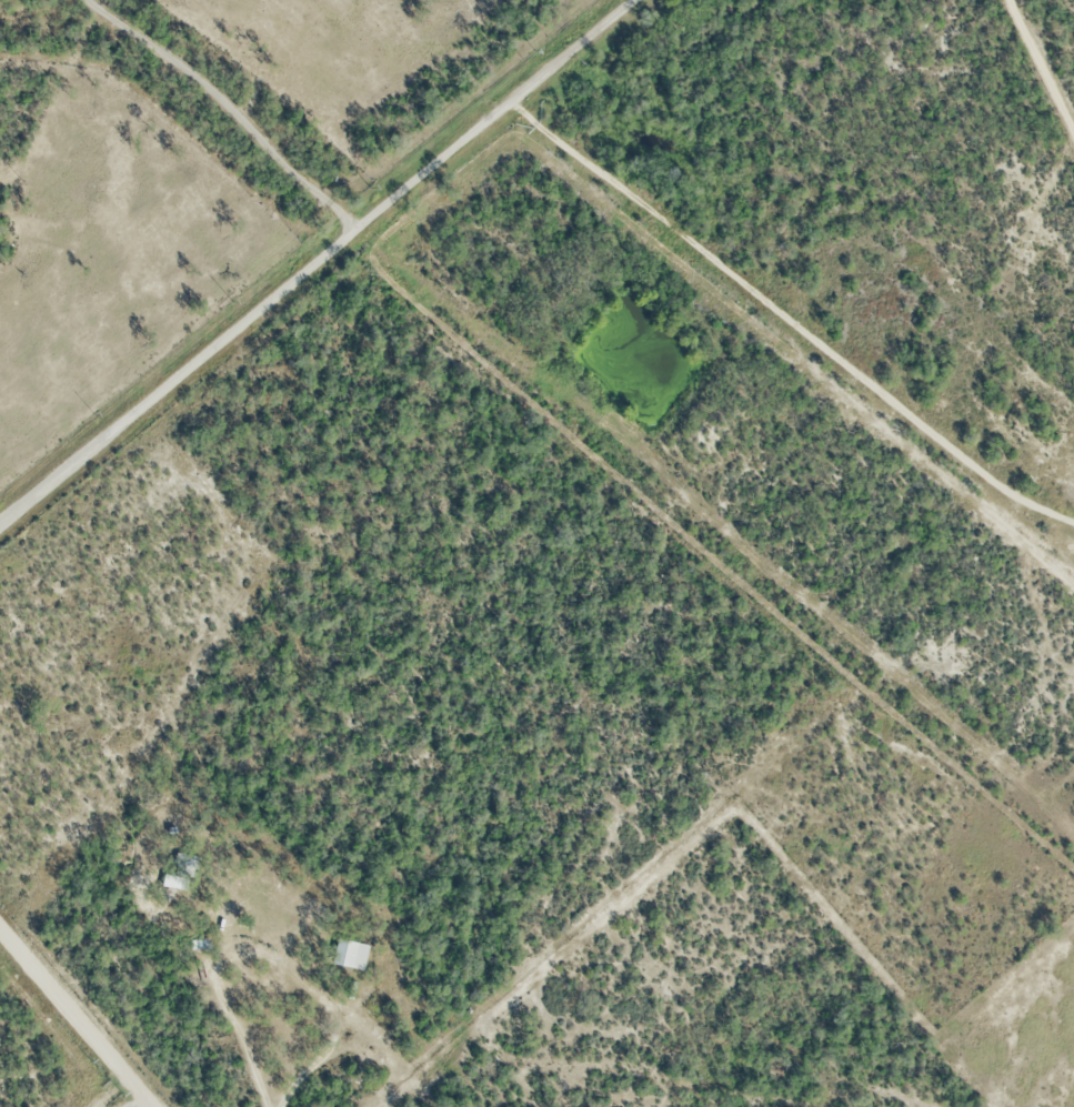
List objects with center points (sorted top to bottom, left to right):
road: (1041, 69)
road: (227, 108)
road: (317, 263)
road: (787, 314)
building: (177, 877)
building: (349, 956)
road: (77, 1017)
road: (235, 1034)
road: (320, 1059)
road: (147, 1106)

